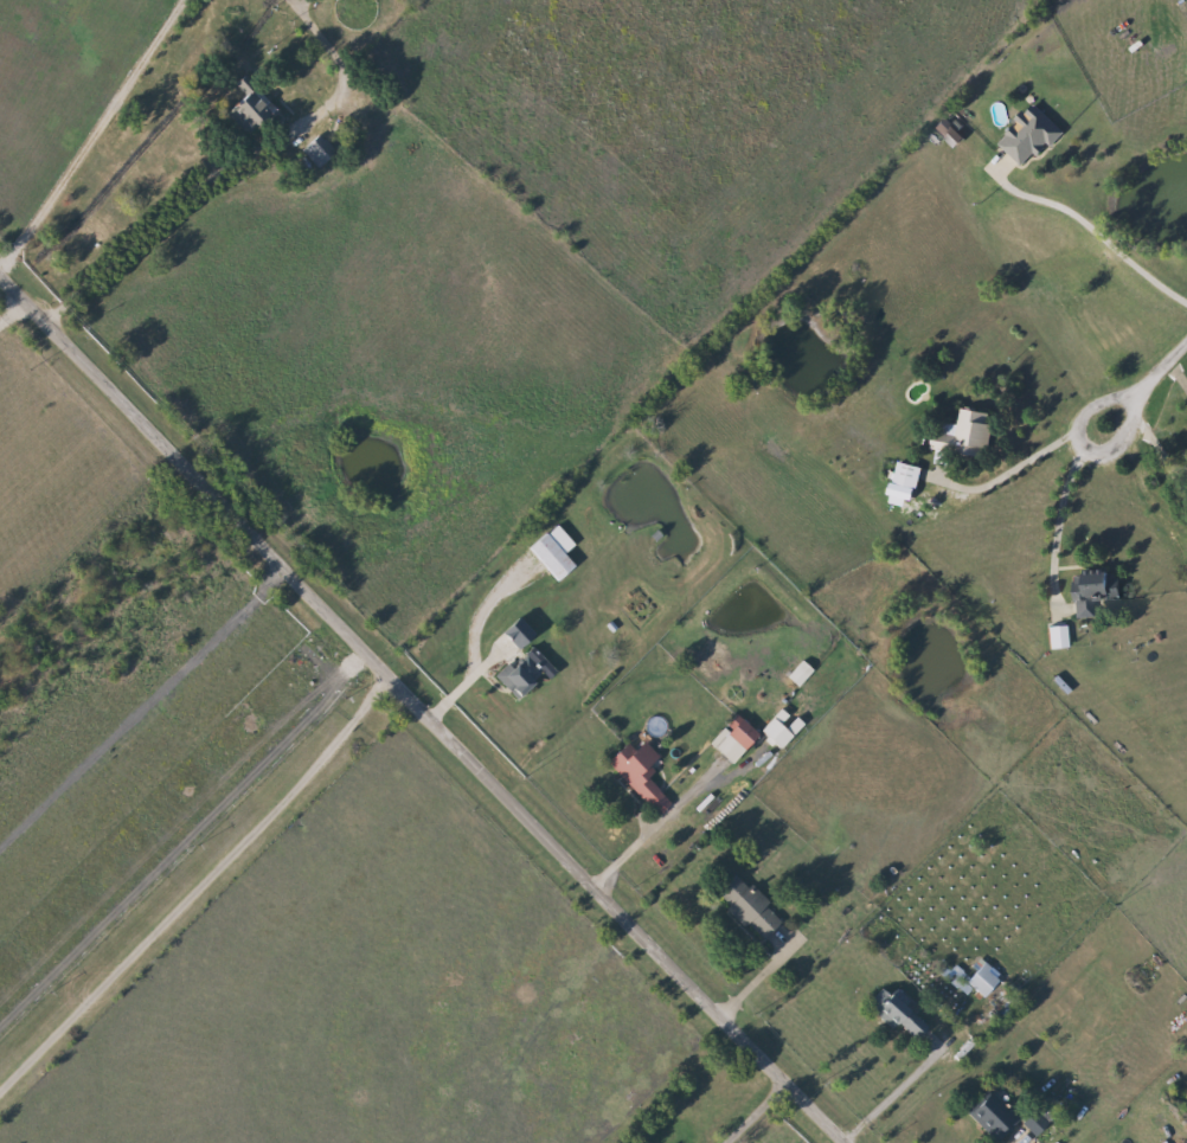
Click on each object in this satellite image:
building: (252, 102)
road: (92, 135)
building: (1024, 137)
building: (323, 149)
road: (236, 174)
road: (1091, 235)
road: (13, 310)
road: (1161, 367)
road: (1178, 374)
building: (960, 435)
road: (1080, 449)
road: (1157, 449)
road: (1010, 470)
building: (902, 475)
building: (1186, 528)
road: (1059, 529)
building: (550, 553)
building: (1089, 589)
building: (514, 672)
road: (462, 687)
road: (143, 706)
road: (424, 707)
building: (730, 738)
building: (633, 769)
road: (634, 848)
road: (200, 886)
building: (745, 906)
road: (759, 978)
building: (979, 980)
building: (896, 1013)
road: (896, 1091)
road: (759, 1112)
building: (988, 1115)

